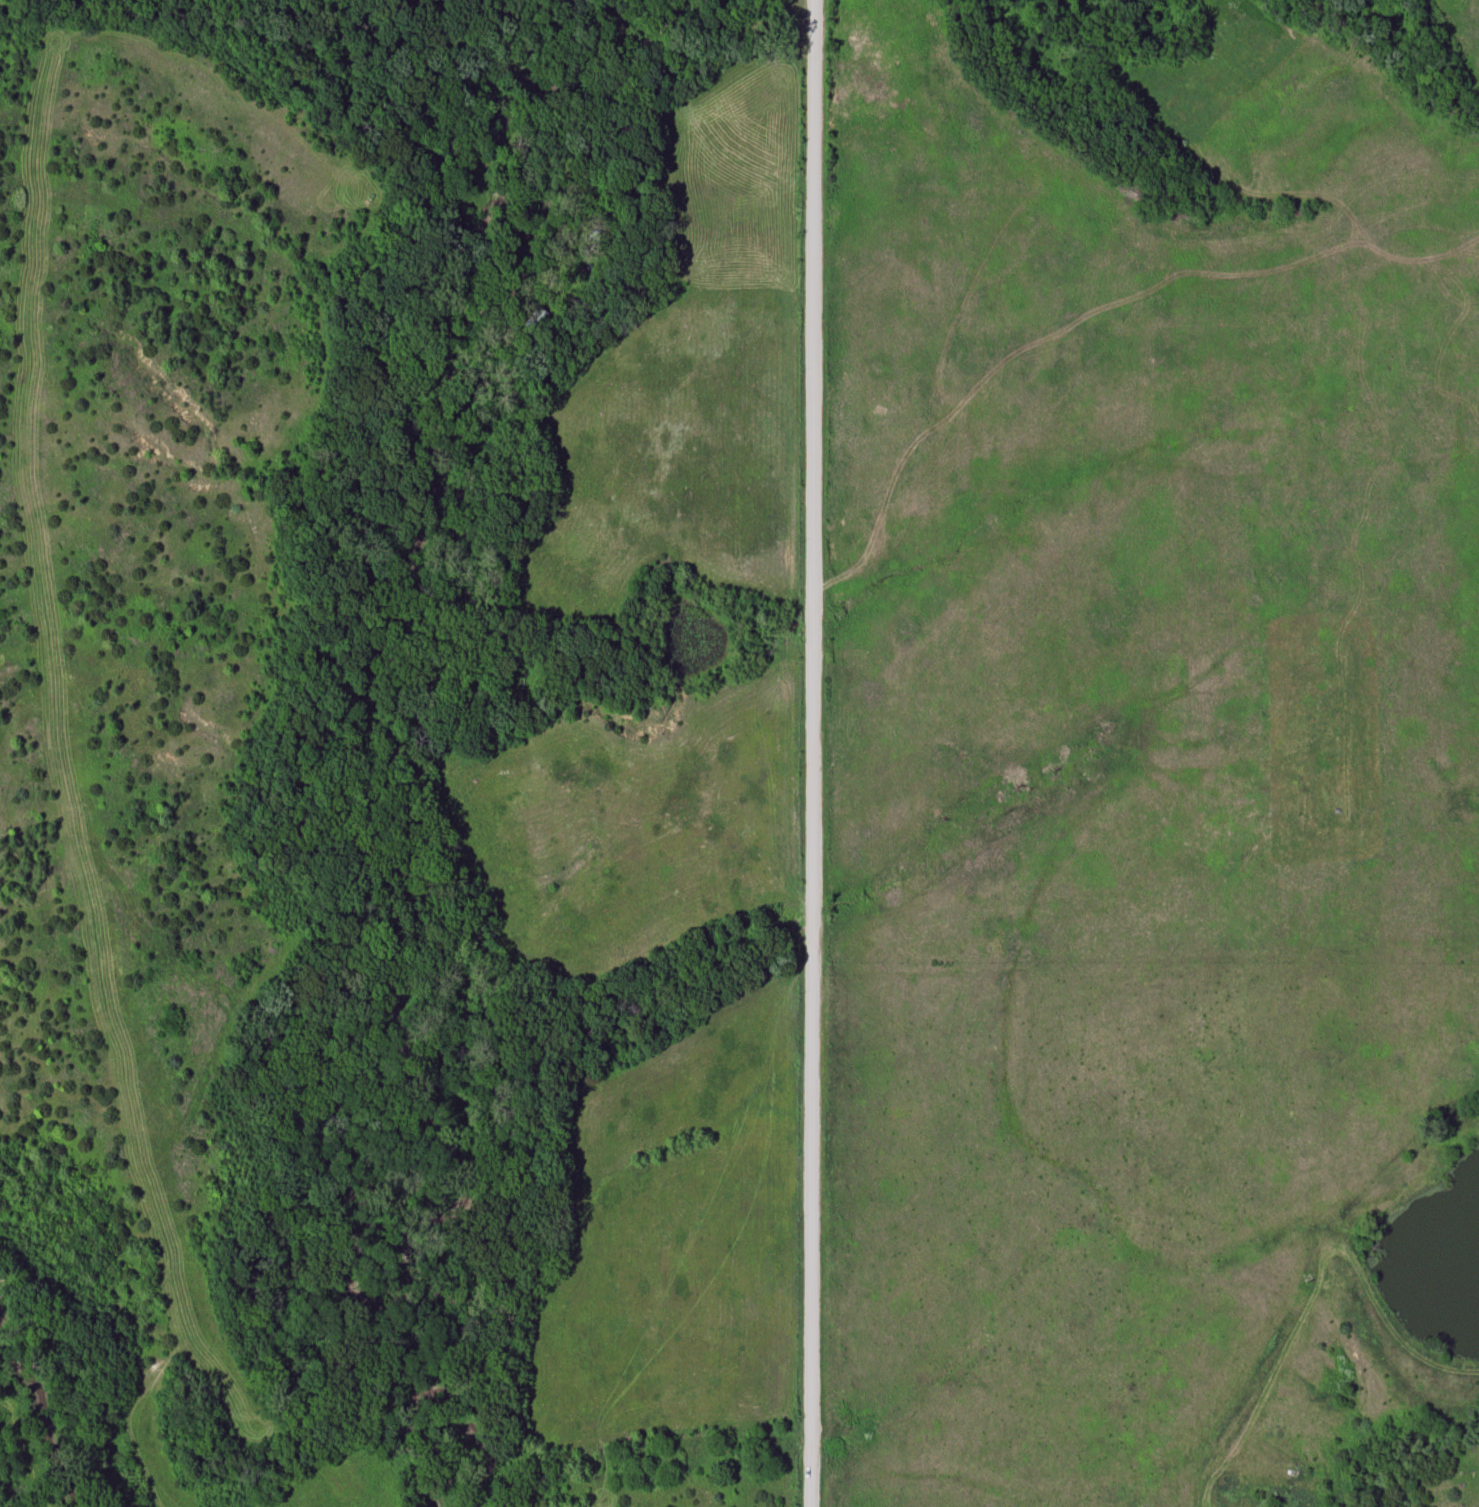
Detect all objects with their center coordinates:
road: (813, 753)
river: (41, 1426)

